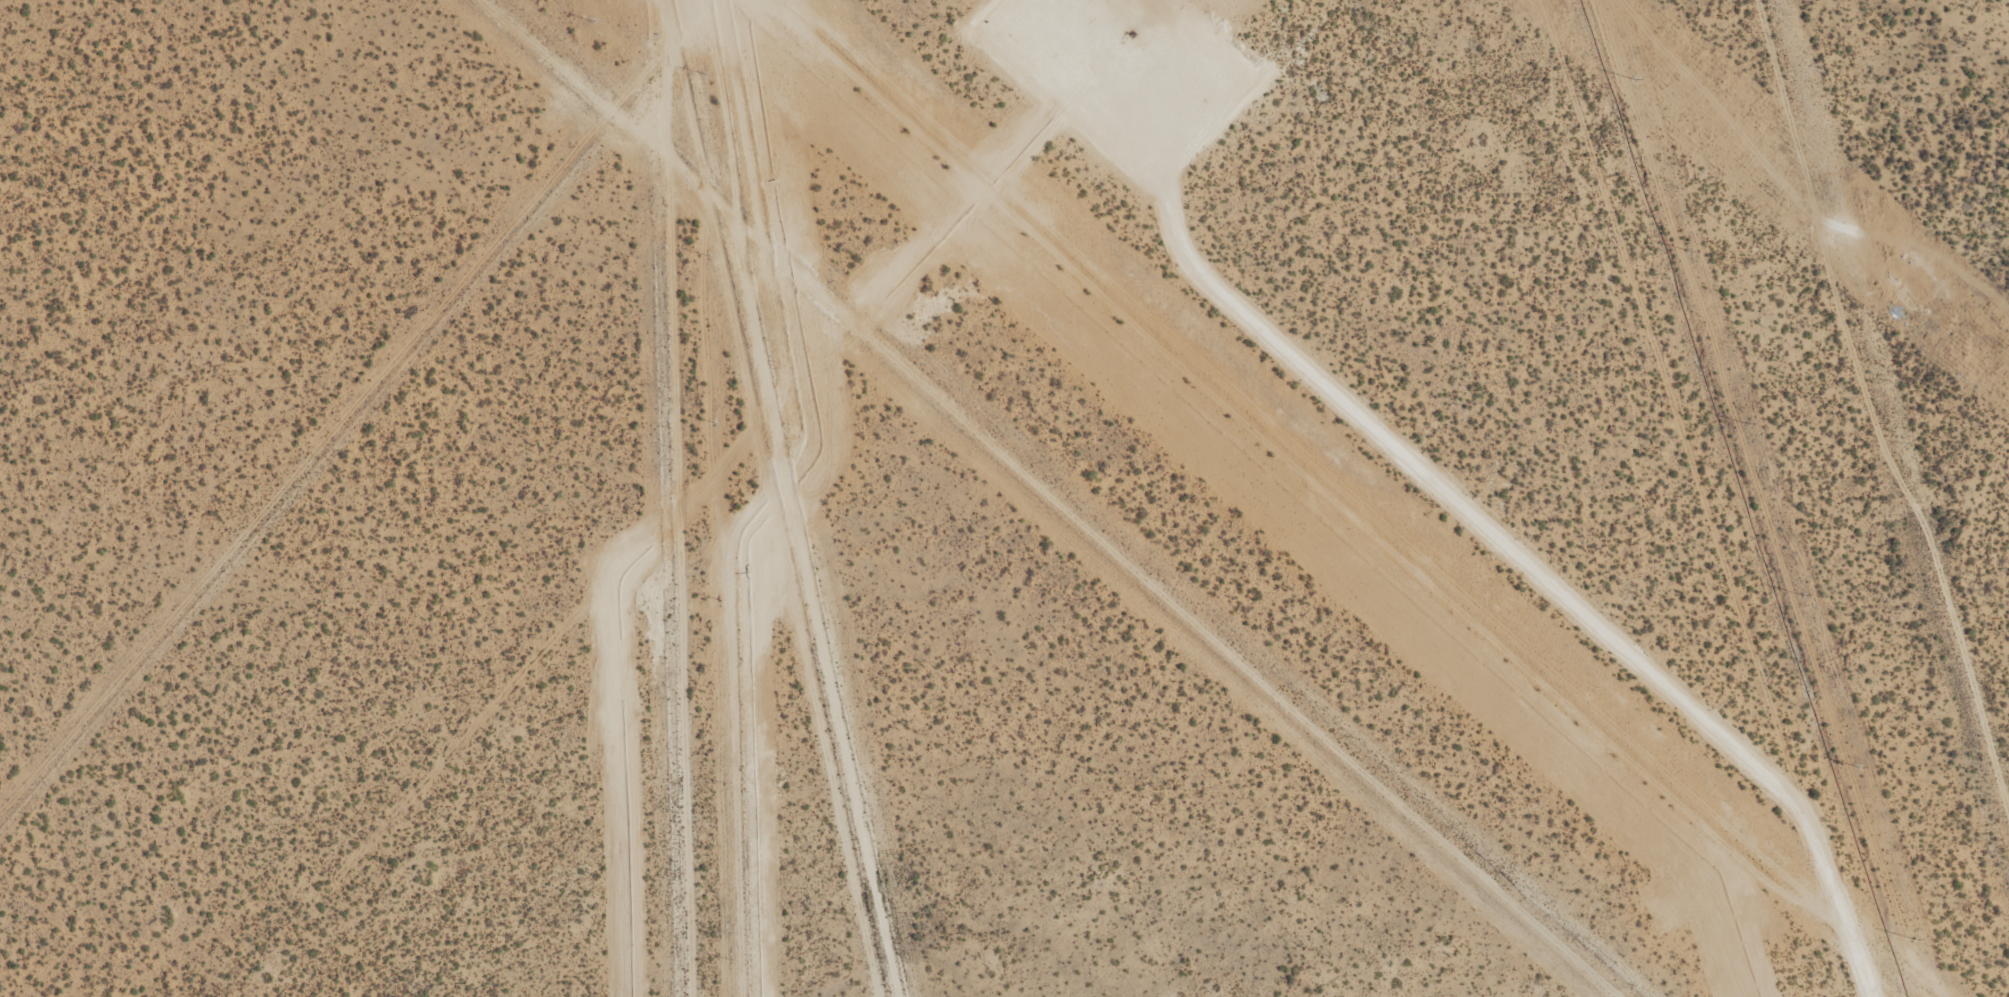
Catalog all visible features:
power tower: (1633, 80)
power tower: (1689, 253)
power tower: (1899, 269)
power tower: (1745, 423)
power tower: (1801, 596)
power tower: (1858, 768)
power tower: (1914, 939)

